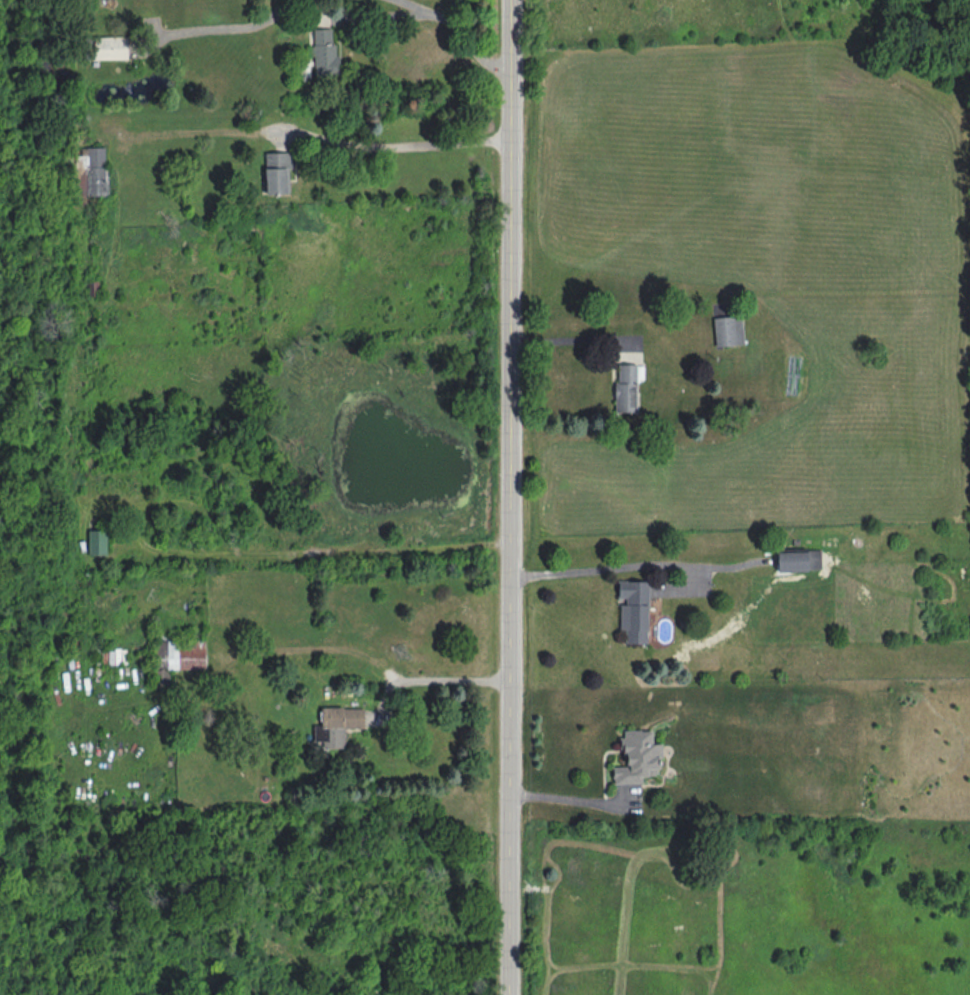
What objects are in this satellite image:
road: (373, 16)
road: (459, 24)
road: (218, 28)
building: (108, 48)
building: (324, 53)
road: (389, 143)
building: (90, 172)
building: (276, 173)
building: (728, 331)
building: (624, 389)
road: (506, 497)
building: (96, 543)
building: (797, 561)
road: (639, 567)
building: (632, 611)
building: (176, 658)
road: (438, 680)
building: (336, 725)
building: (636, 759)
road: (579, 806)

